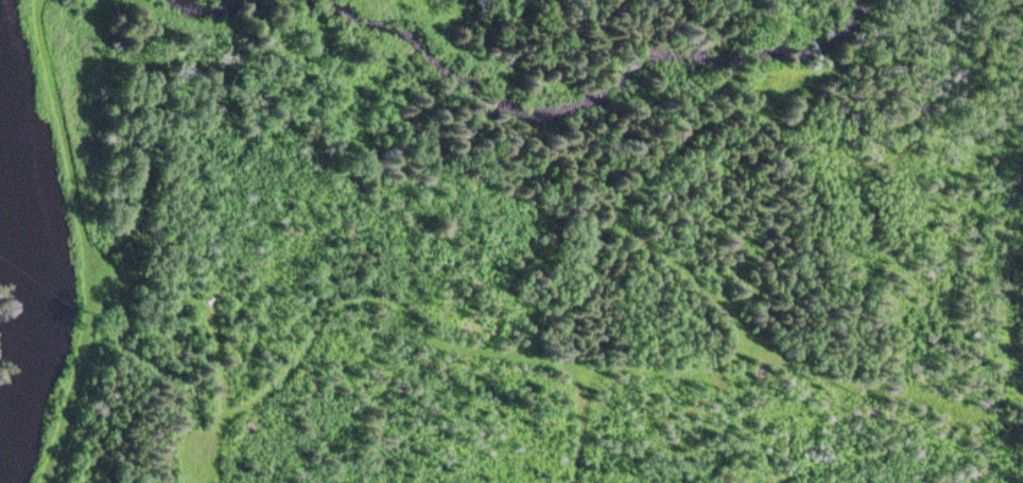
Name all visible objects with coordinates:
river: (30, 262)

